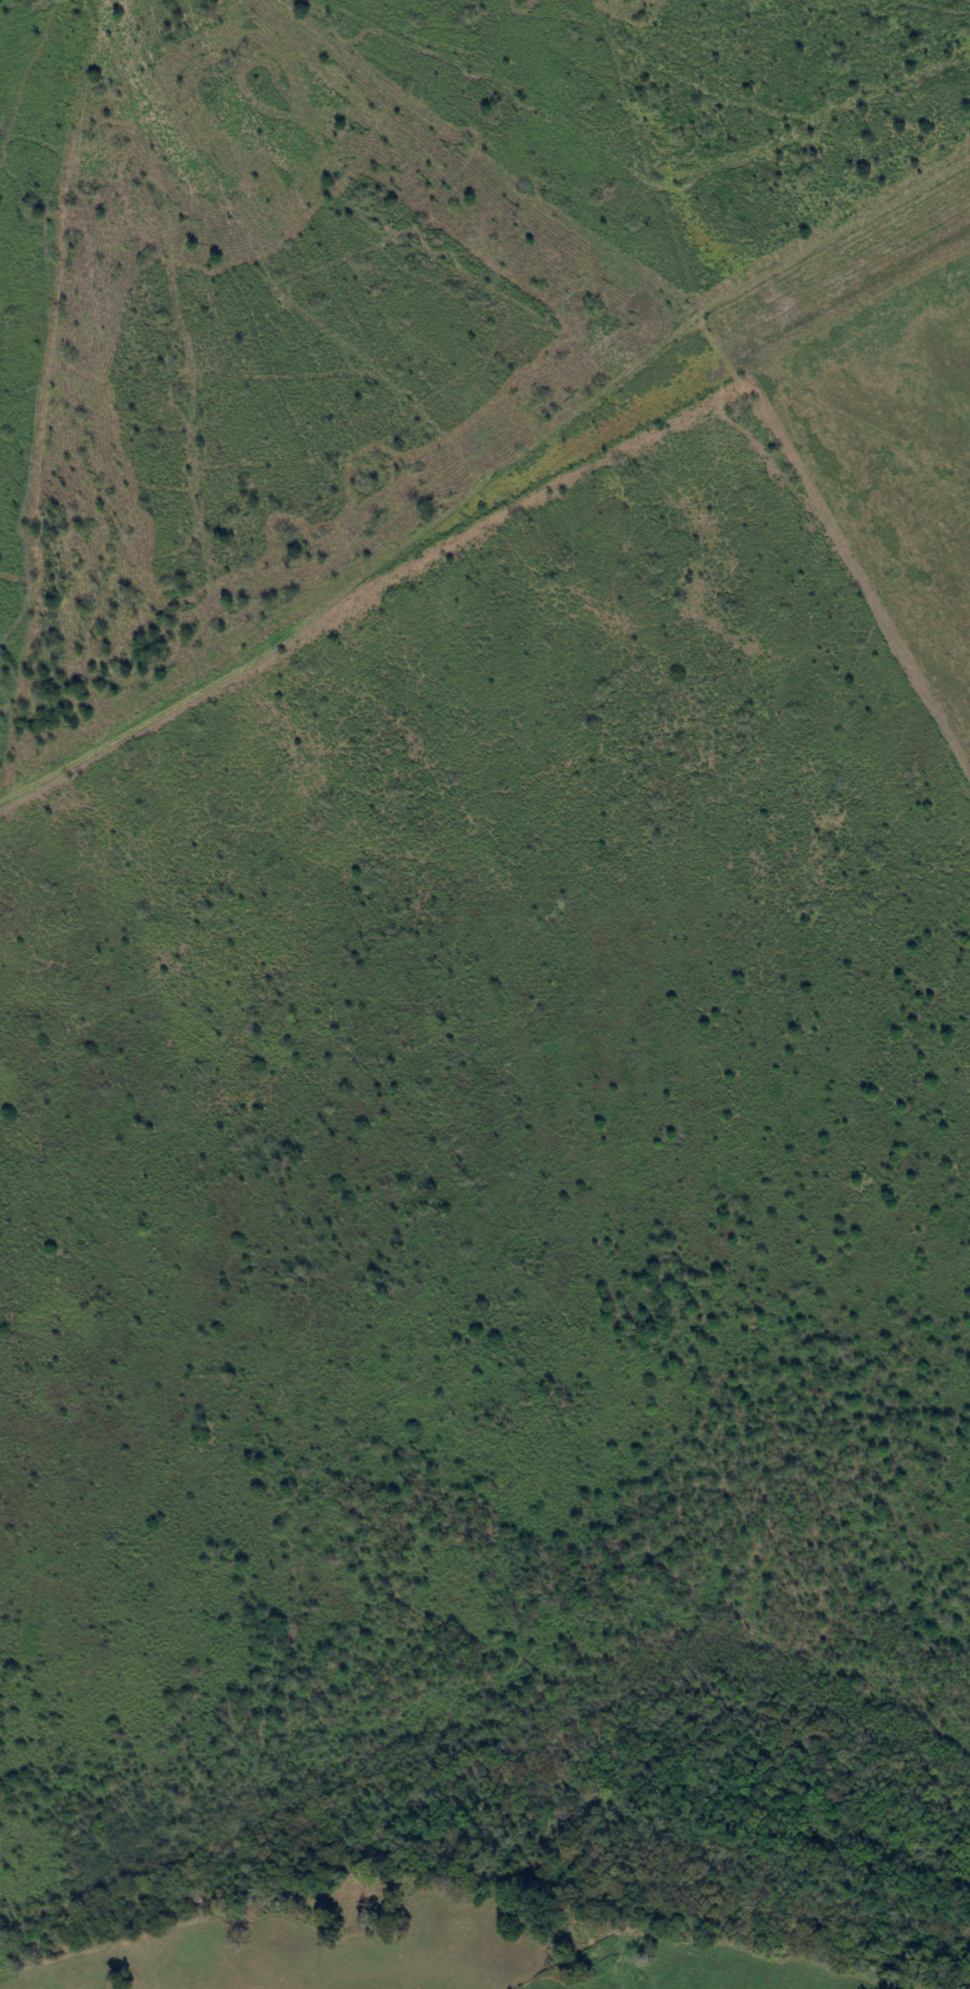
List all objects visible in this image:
road: (558, 482)

